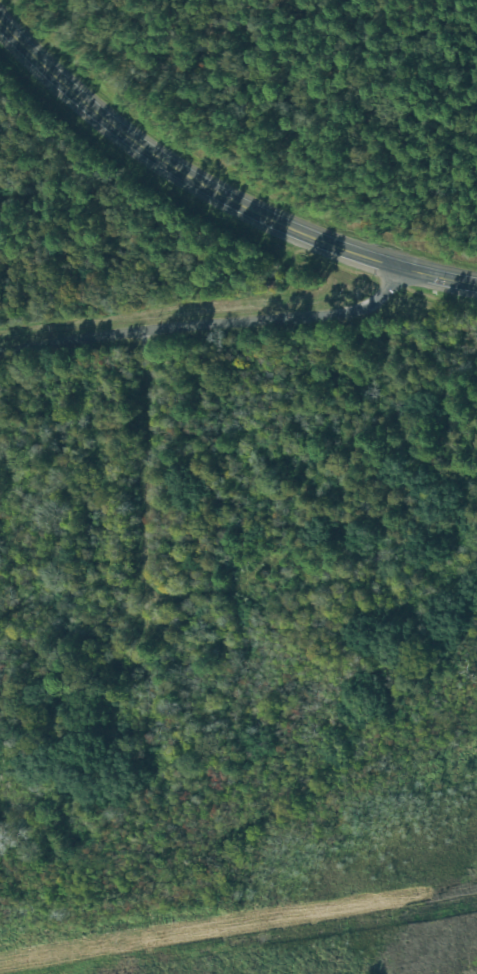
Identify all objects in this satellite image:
road: (216, 191)
road: (210, 326)

